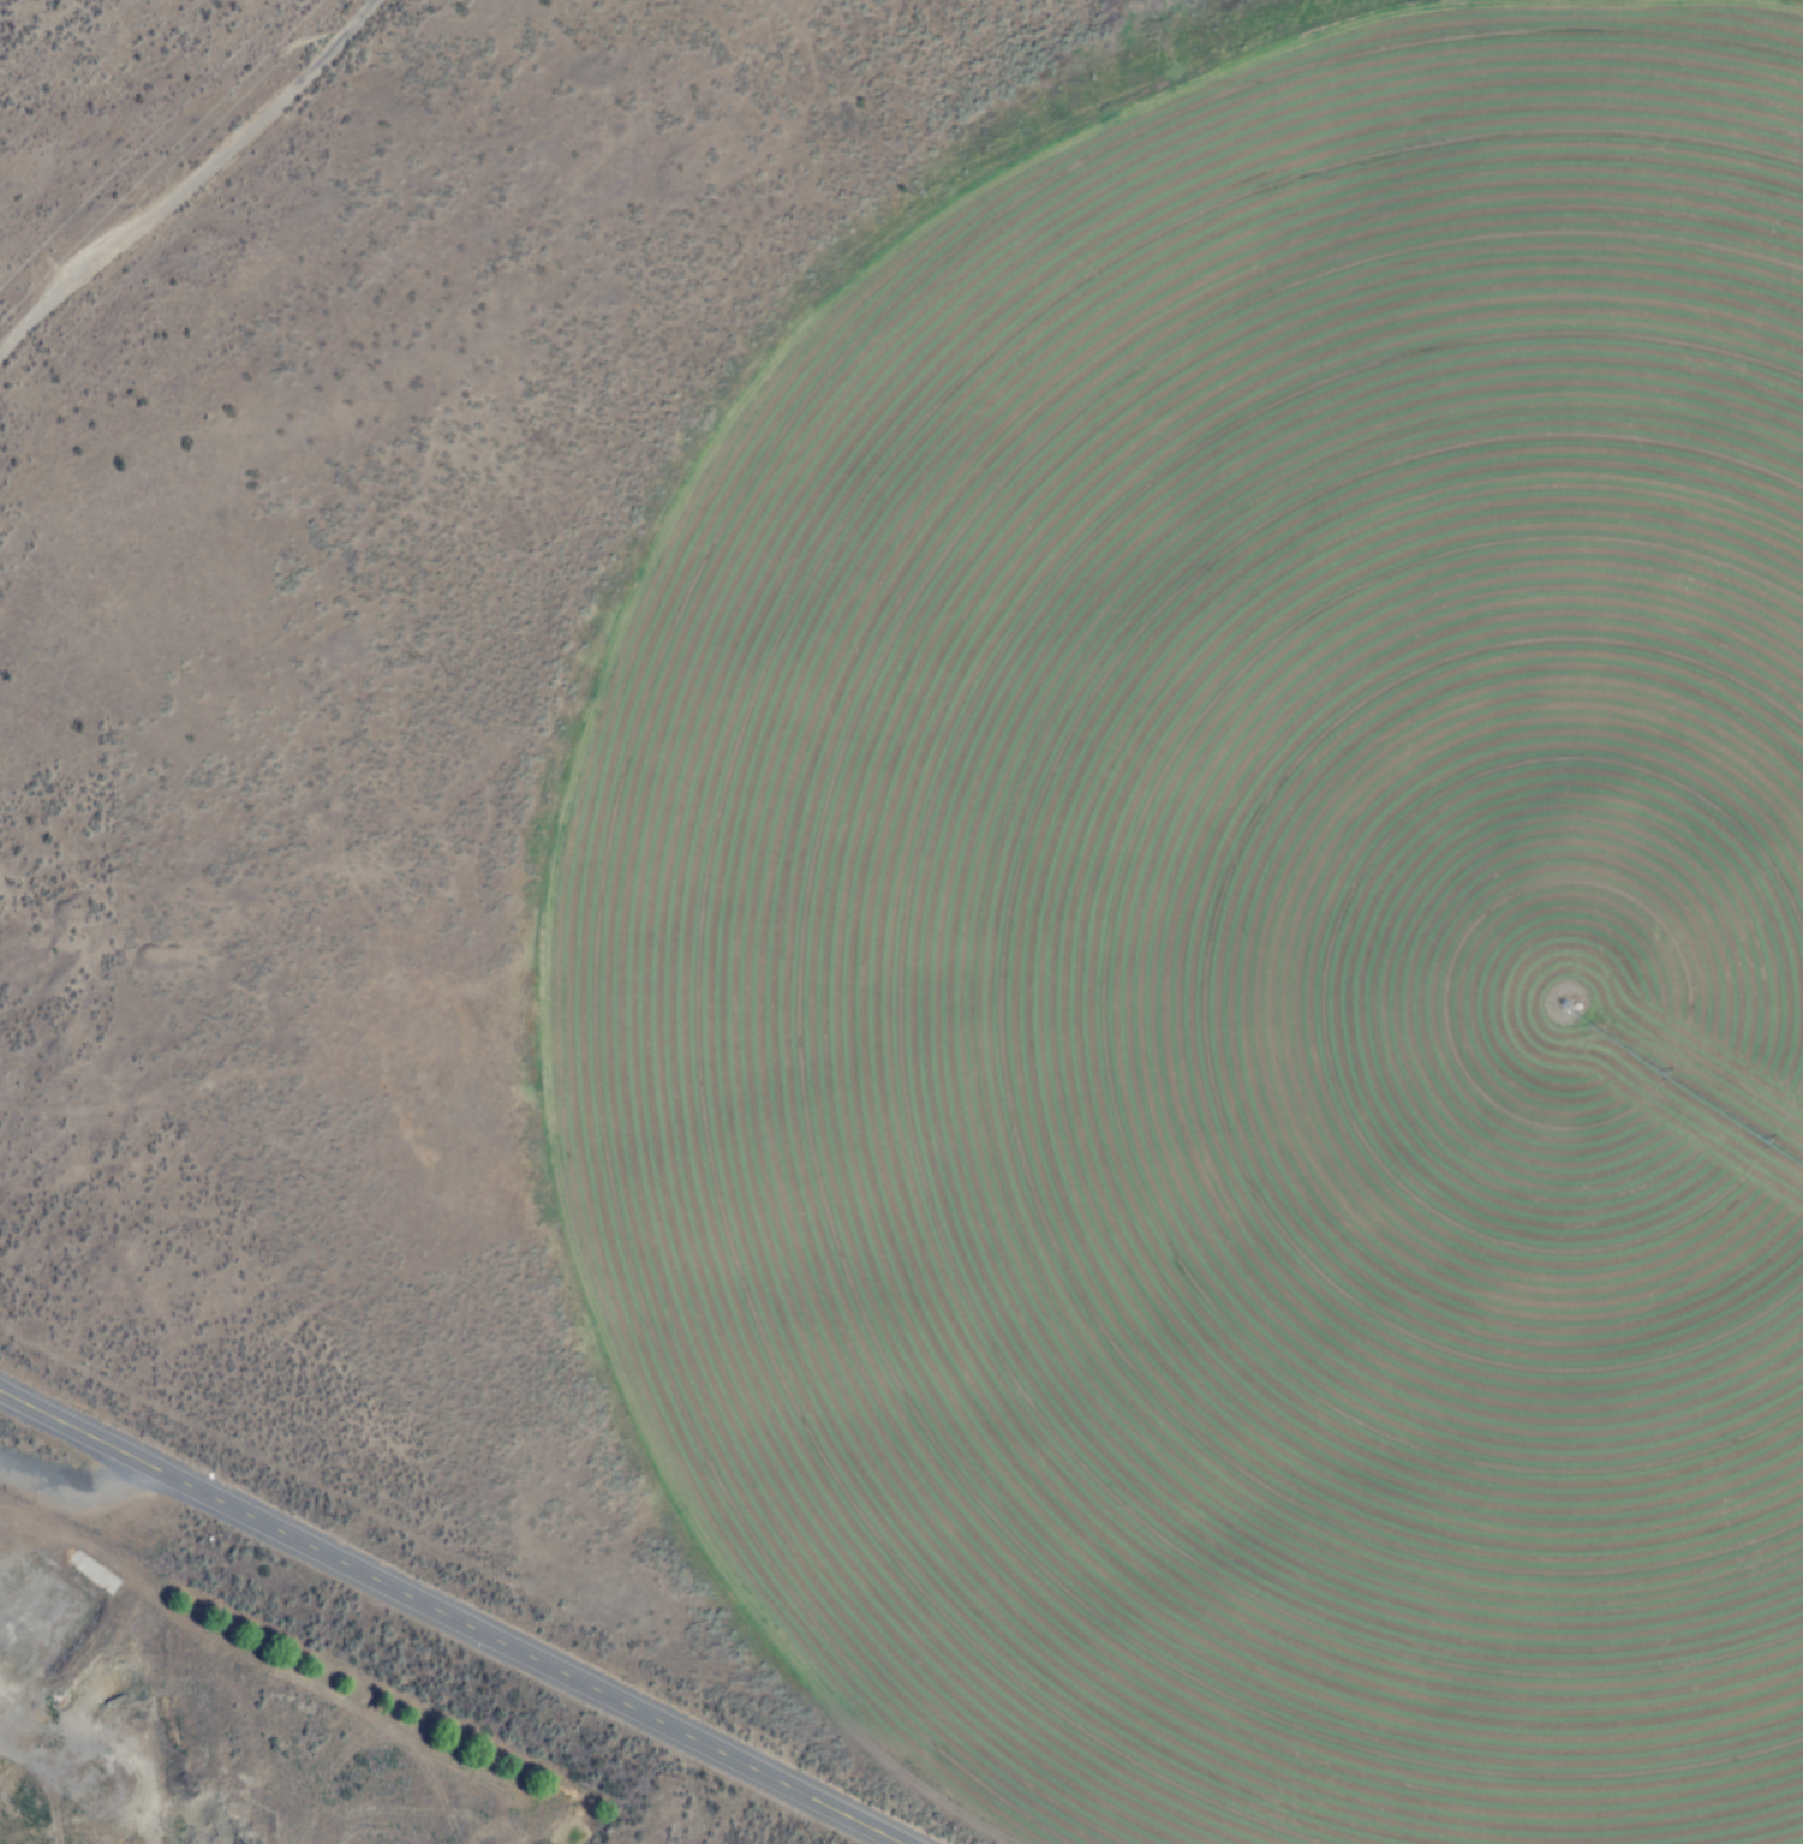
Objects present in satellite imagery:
crop: (1259, 965)
building: (902, 1148)
building: (818, 1207)
road: (450, 1617)

